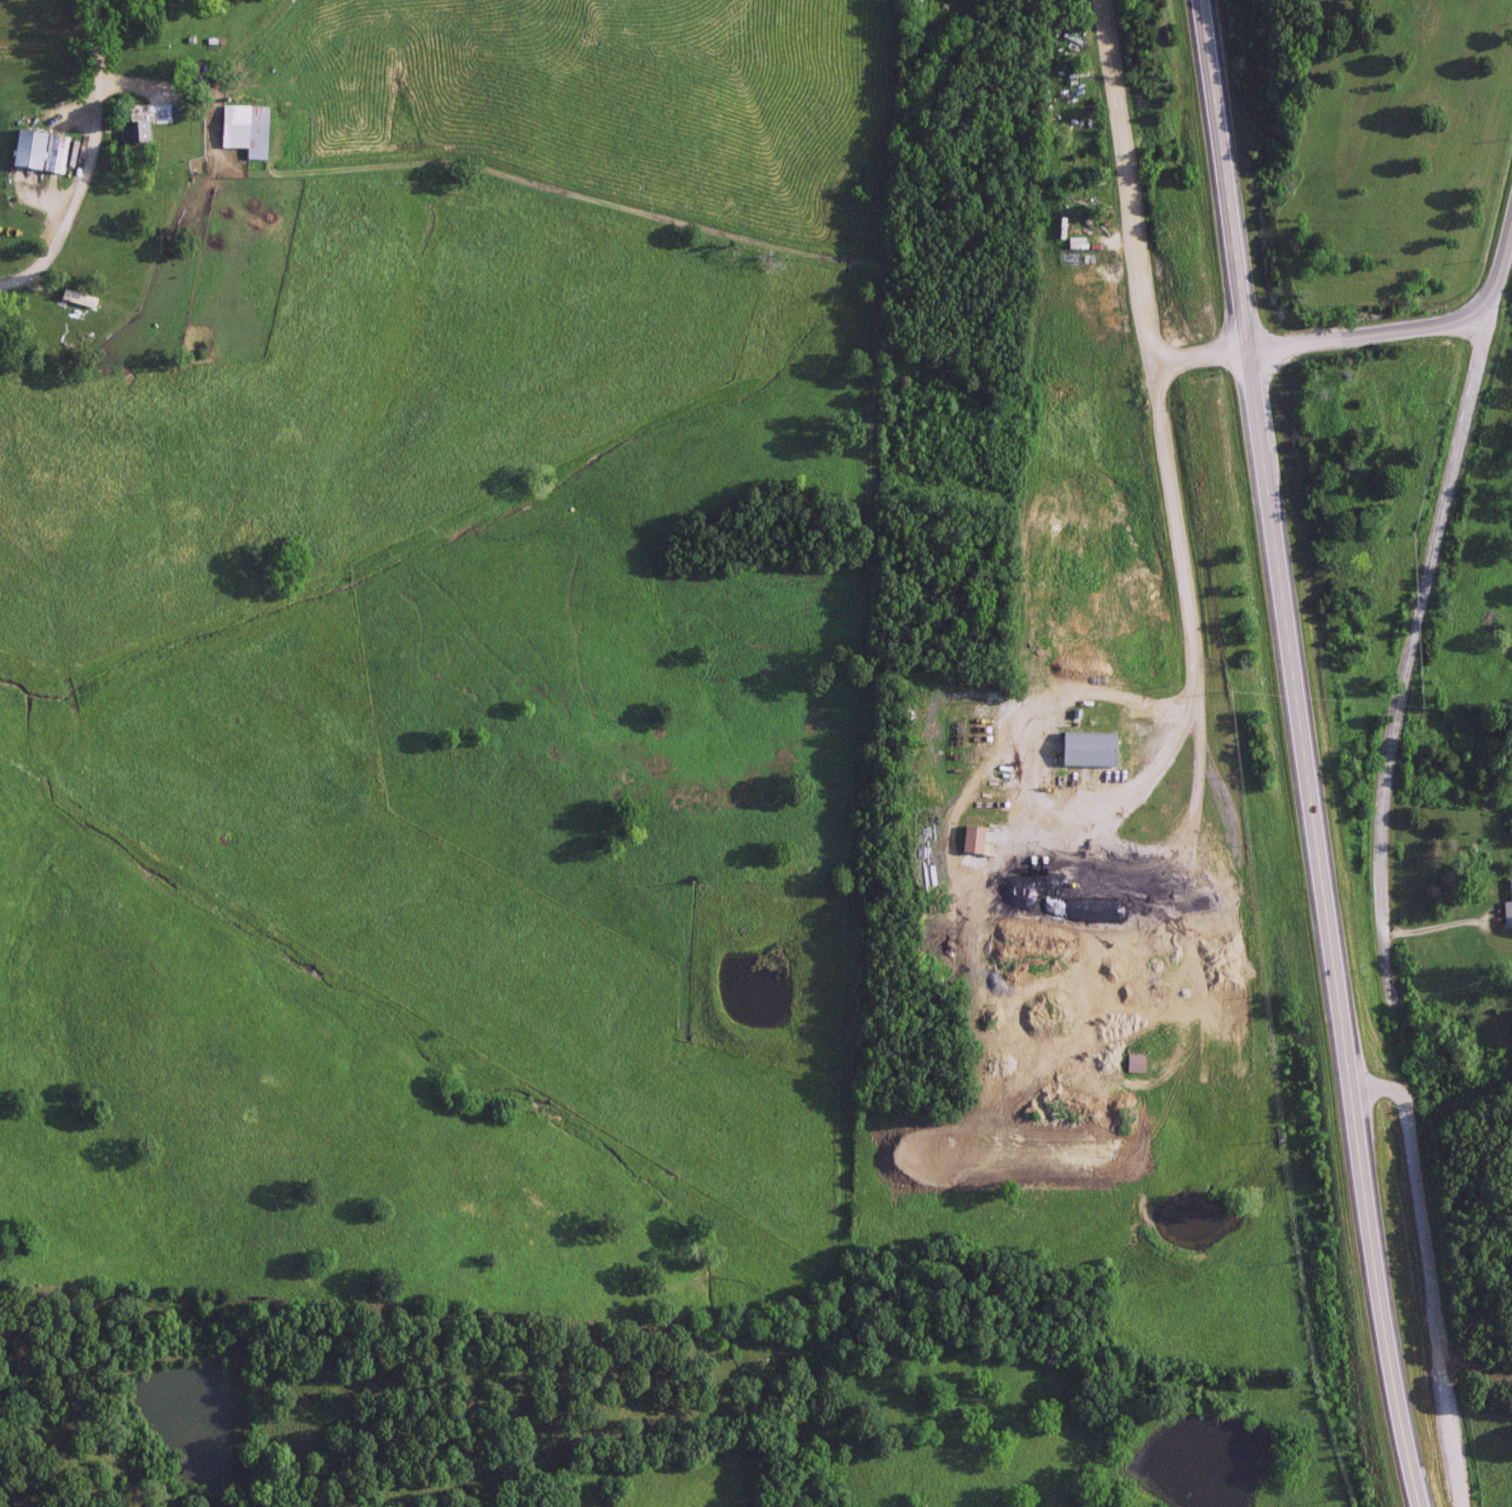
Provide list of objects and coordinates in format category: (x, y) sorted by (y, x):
building: (135, 124)
building: (245, 127)
building: (38, 151)
road: (85, 160)
road: (1227, 174)
building: (1082, 199)
building: (85, 300)
road: (1436, 323)
road: (1150, 347)
road: (1202, 354)
road: (1406, 637)
road: (1006, 734)
building: (971, 838)
building: (1508, 905)
road: (1327, 928)
building: (1134, 1062)
road: (1427, 1275)

